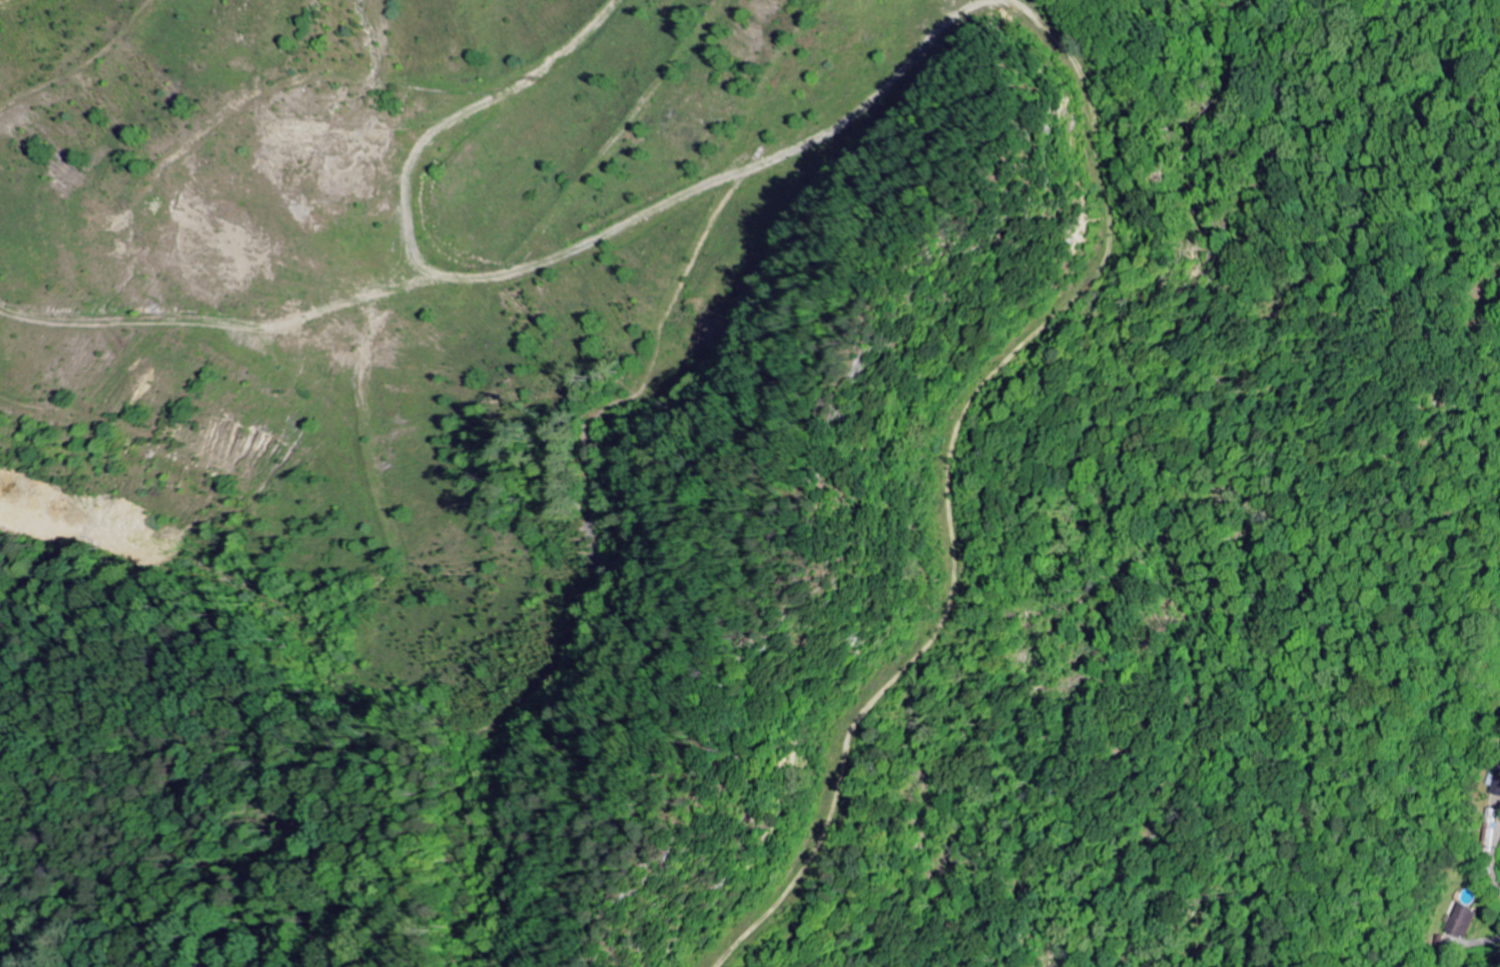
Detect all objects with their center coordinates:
building: (1466, 922)

